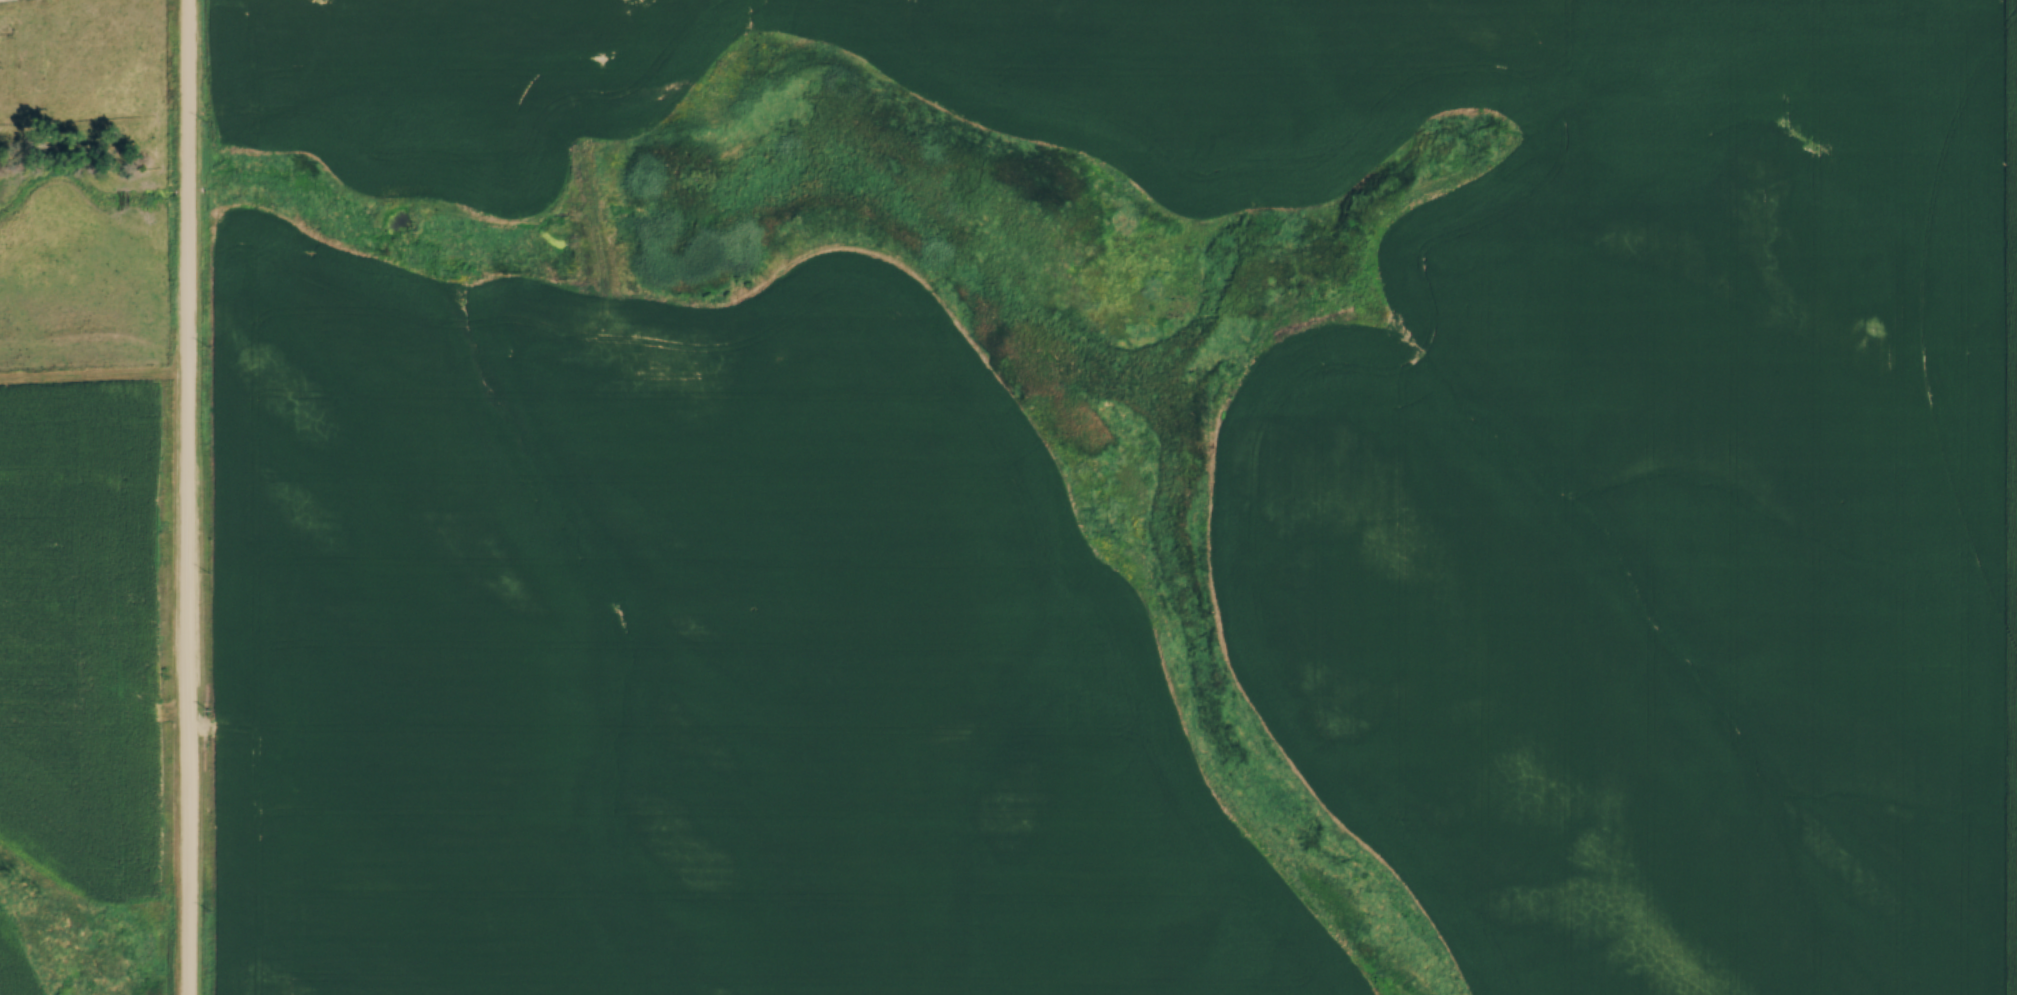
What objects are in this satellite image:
road: (189, 497)

